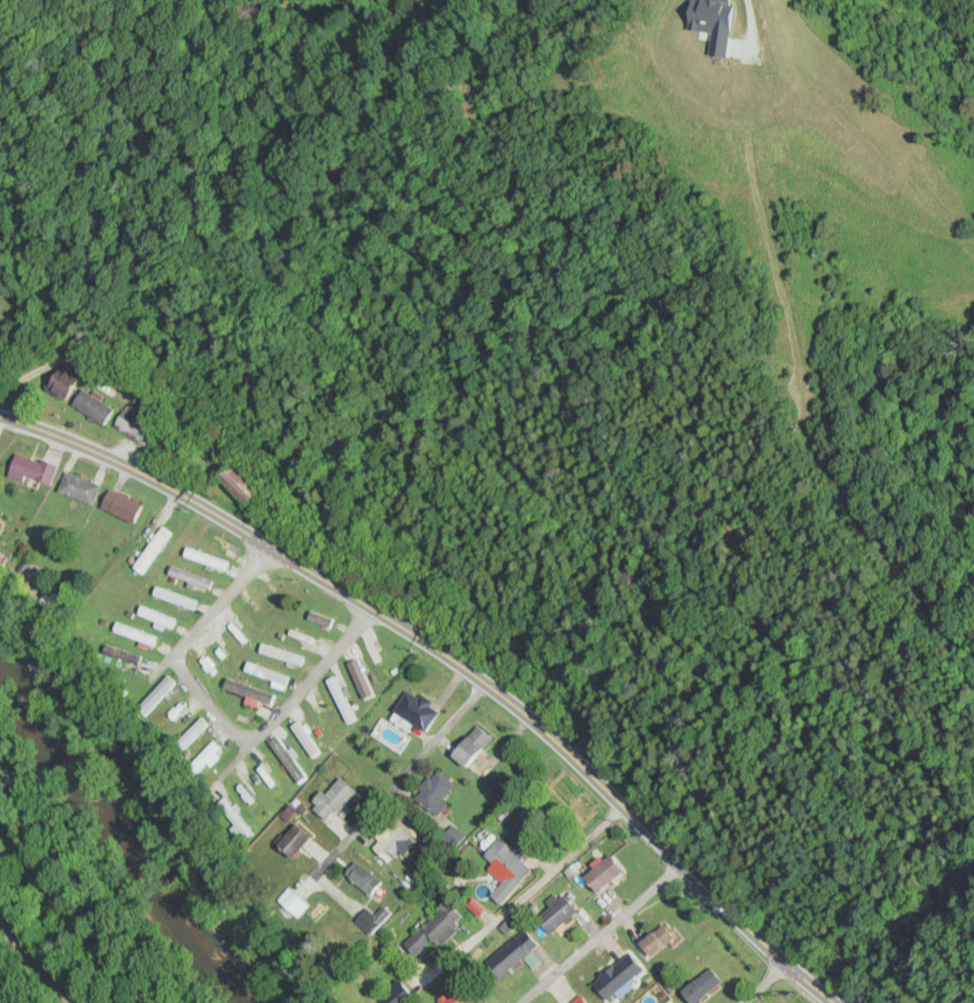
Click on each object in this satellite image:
building: (704, 42)
building: (62, 380)
building: (92, 407)
building: (137, 424)
building: (31, 469)
building: (237, 482)
building: (79, 488)
building: (121, 506)
building: (220, 541)
building: (160, 546)
building: (206, 558)
building: (190, 577)
building: (176, 597)
building: (253, 615)
building: (156, 616)
building: (320, 618)
building: (135, 634)
building: (301, 636)
building: (222, 653)
building: (282, 654)
building: (125, 655)
road: (452, 659)
building: (376, 660)
building: (267, 673)
building: (249, 691)
building: (157, 695)
building: (340, 699)
building: (415, 710)
road: (220, 715)
building: (321, 718)
building: (193, 733)
building: (470, 746)
road: (240, 756)
building: (287, 758)
building: (205, 759)
building: (267, 773)
road: (402, 780)
building: (435, 792)
building: (331, 799)
building: (252, 801)
river: (122, 839)
building: (291, 841)
building: (392, 842)
building: (508, 861)
building: (601, 874)
building: (362, 877)
road: (539, 881)
building: (296, 901)
building: (477, 906)
building: (555, 914)
building: (372, 918)
building: (431, 931)
road: (603, 934)
building: (656, 941)
railway: (43, 958)
building: (508, 958)
building: (619, 977)
road: (766, 983)
building: (700, 986)
building: (397, 993)
building: (578, 1000)

